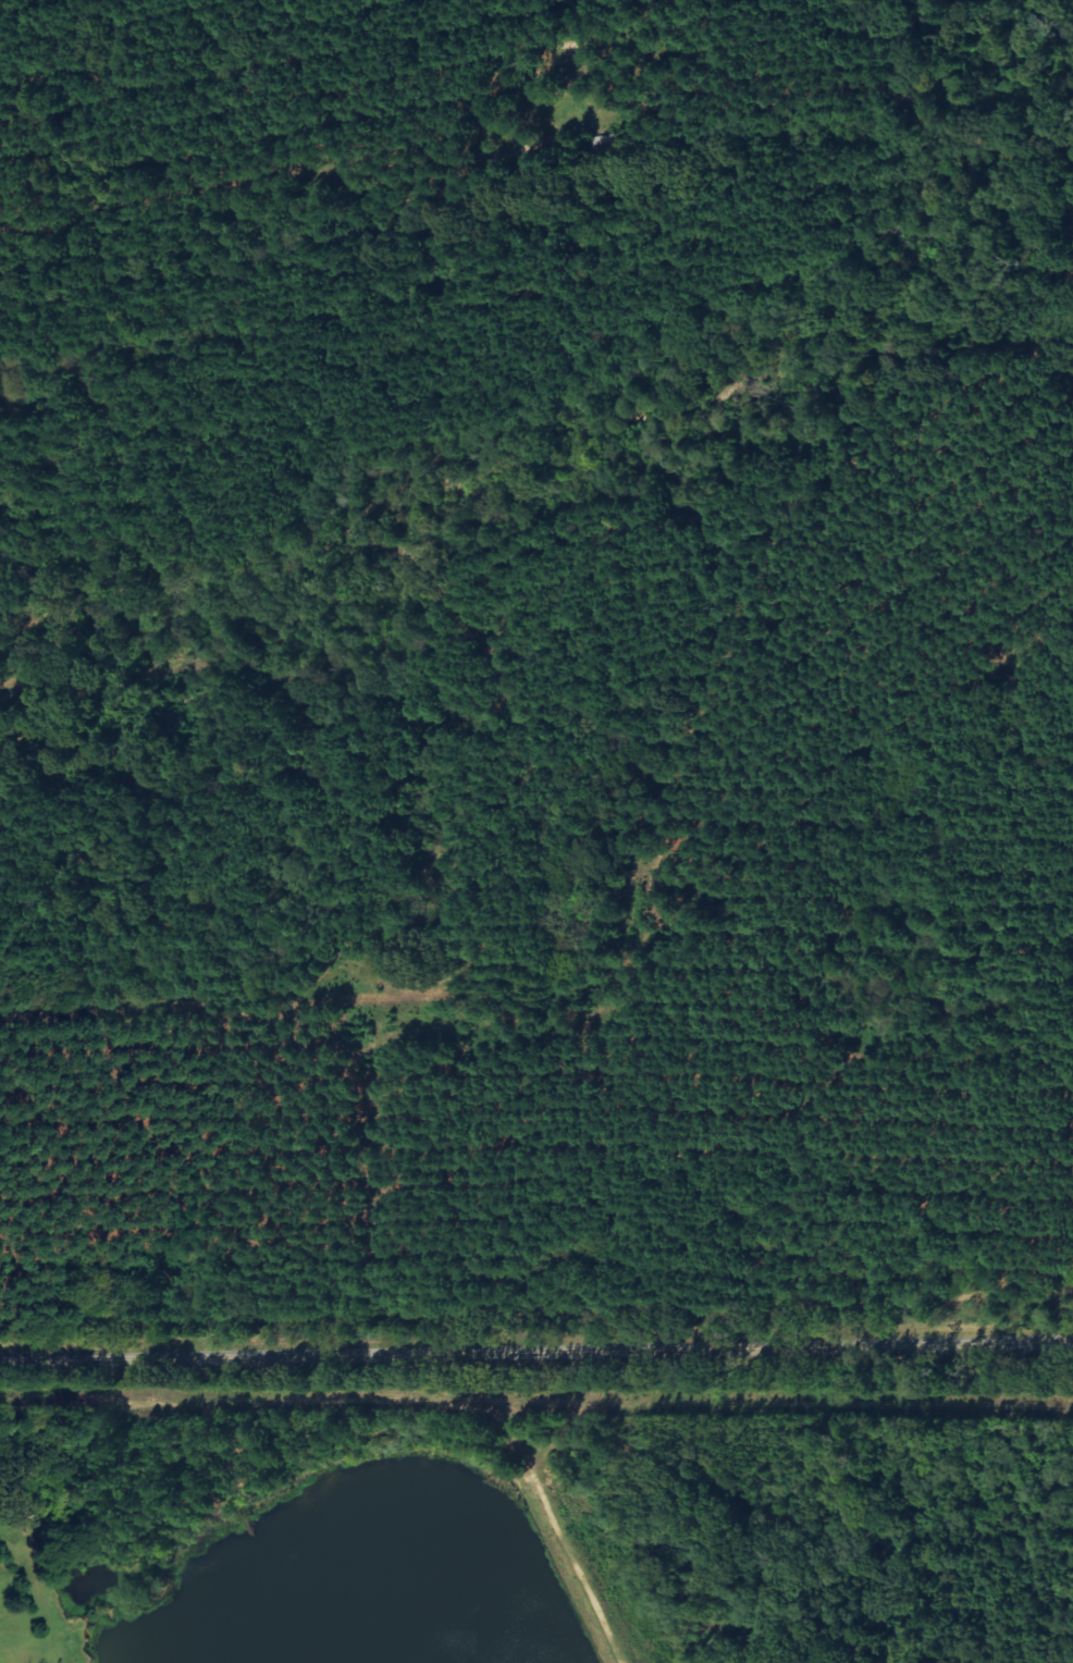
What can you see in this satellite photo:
road: (536, 1352)

